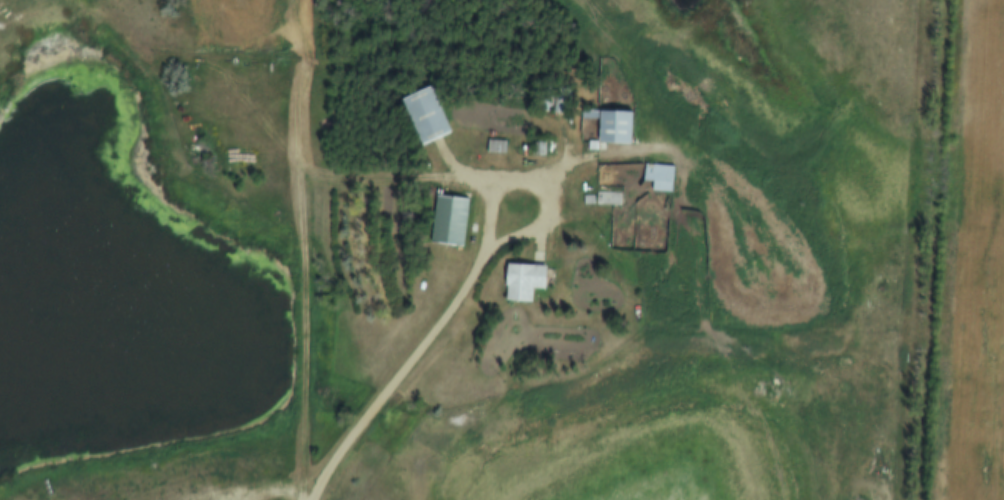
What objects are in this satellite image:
building: (561, 98)
building: (425, 114)
building: (613, 124)
building: (660, 175)
road: (398, 181)
road: (541, 184)
building: (609, 196)
building: (450, 219)
road: (303, 249)
building: (524, 280)
road: (399, 378)

